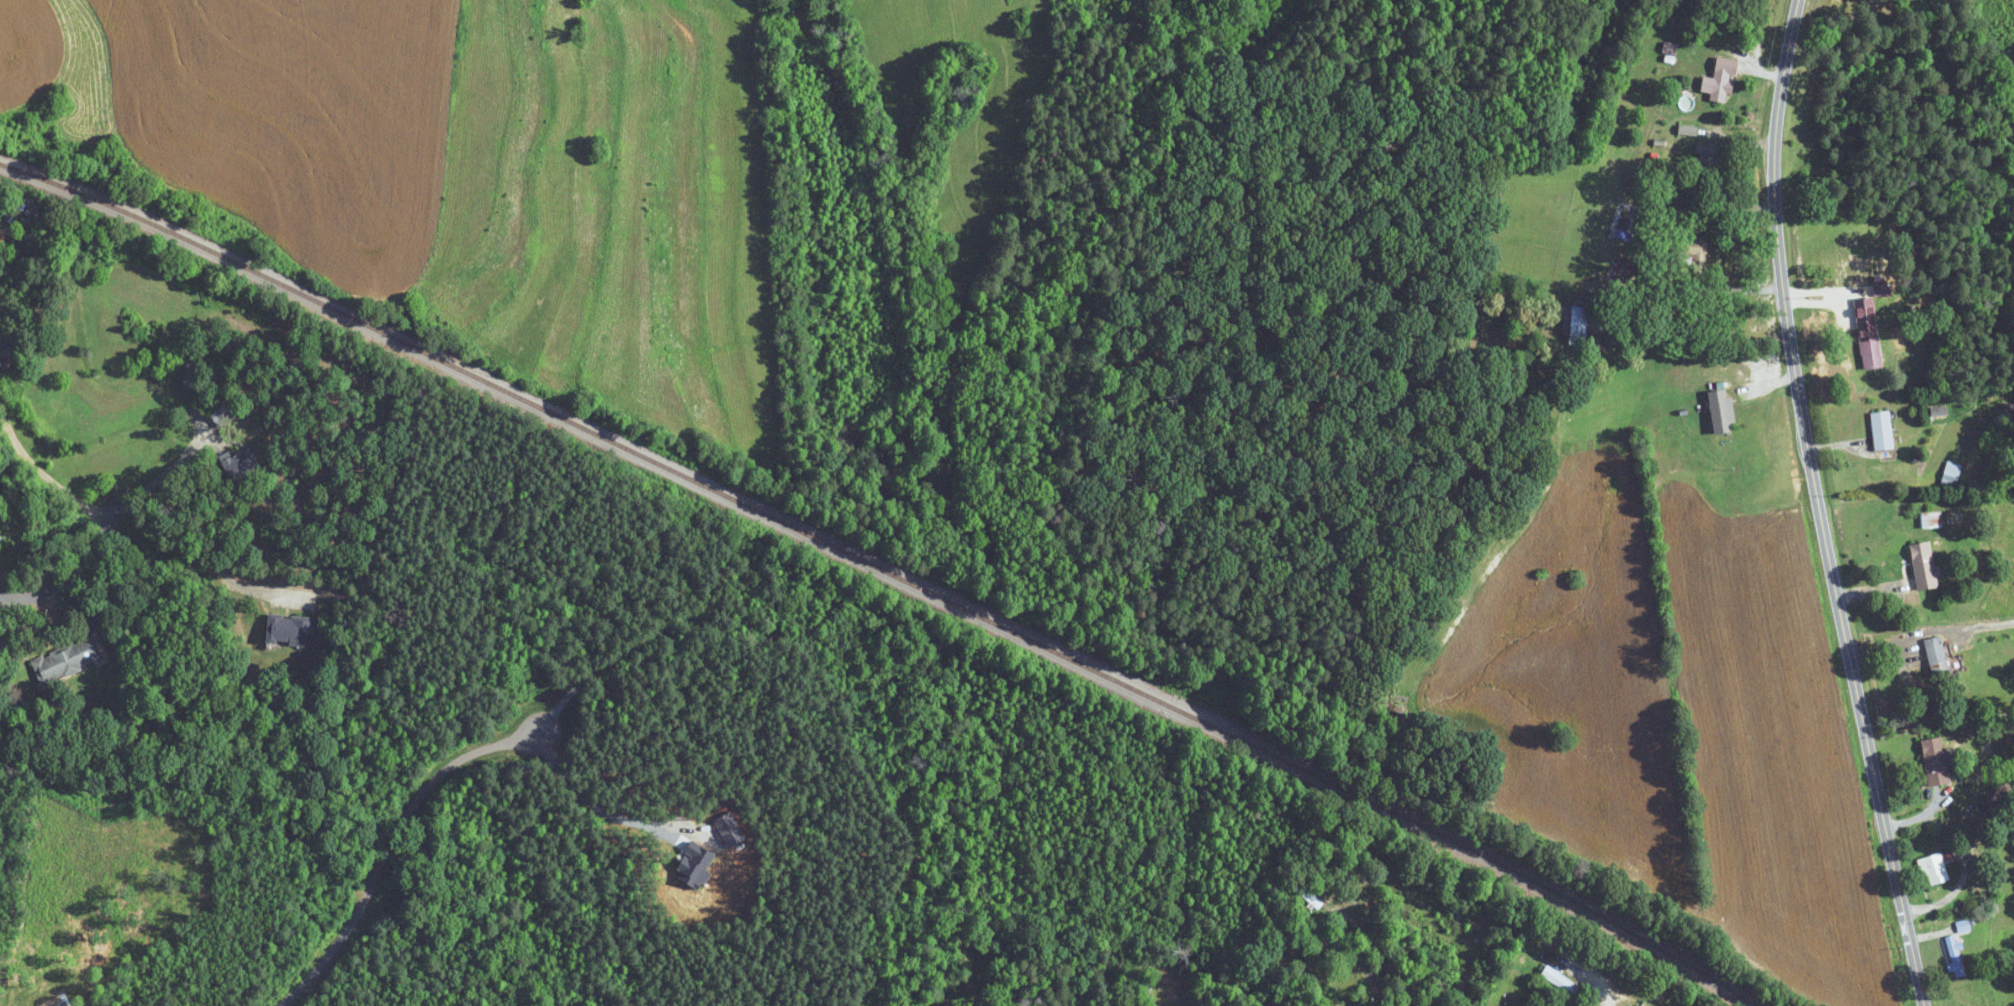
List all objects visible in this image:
building: (1722, 79)
building: (1707, 156)
building: (1690, 246)
building: (1884, 291)
building: (1622, 307)
building: (1577, 326)
building: (1870, 347)
building: (190, 375)
building: (219, 411)
building: (1720, 411)
building: (1937, 411)
building: (1881, 431)
building: (240, 468)
road: (154, 479)
road: (62, 484)
road: (1822, 505)
road: (212, 556)
building: (1921, 569)
railway: (886, 571)
road: (47, 590)
building: (292, 630)
building: (1935, 657)
building: (68, 659)
building: (1934, 762)
road: (389, 843)
building: (1933, 870)
building: (1306, 894)
building: (1953, 956)
building: (1561, 981)

